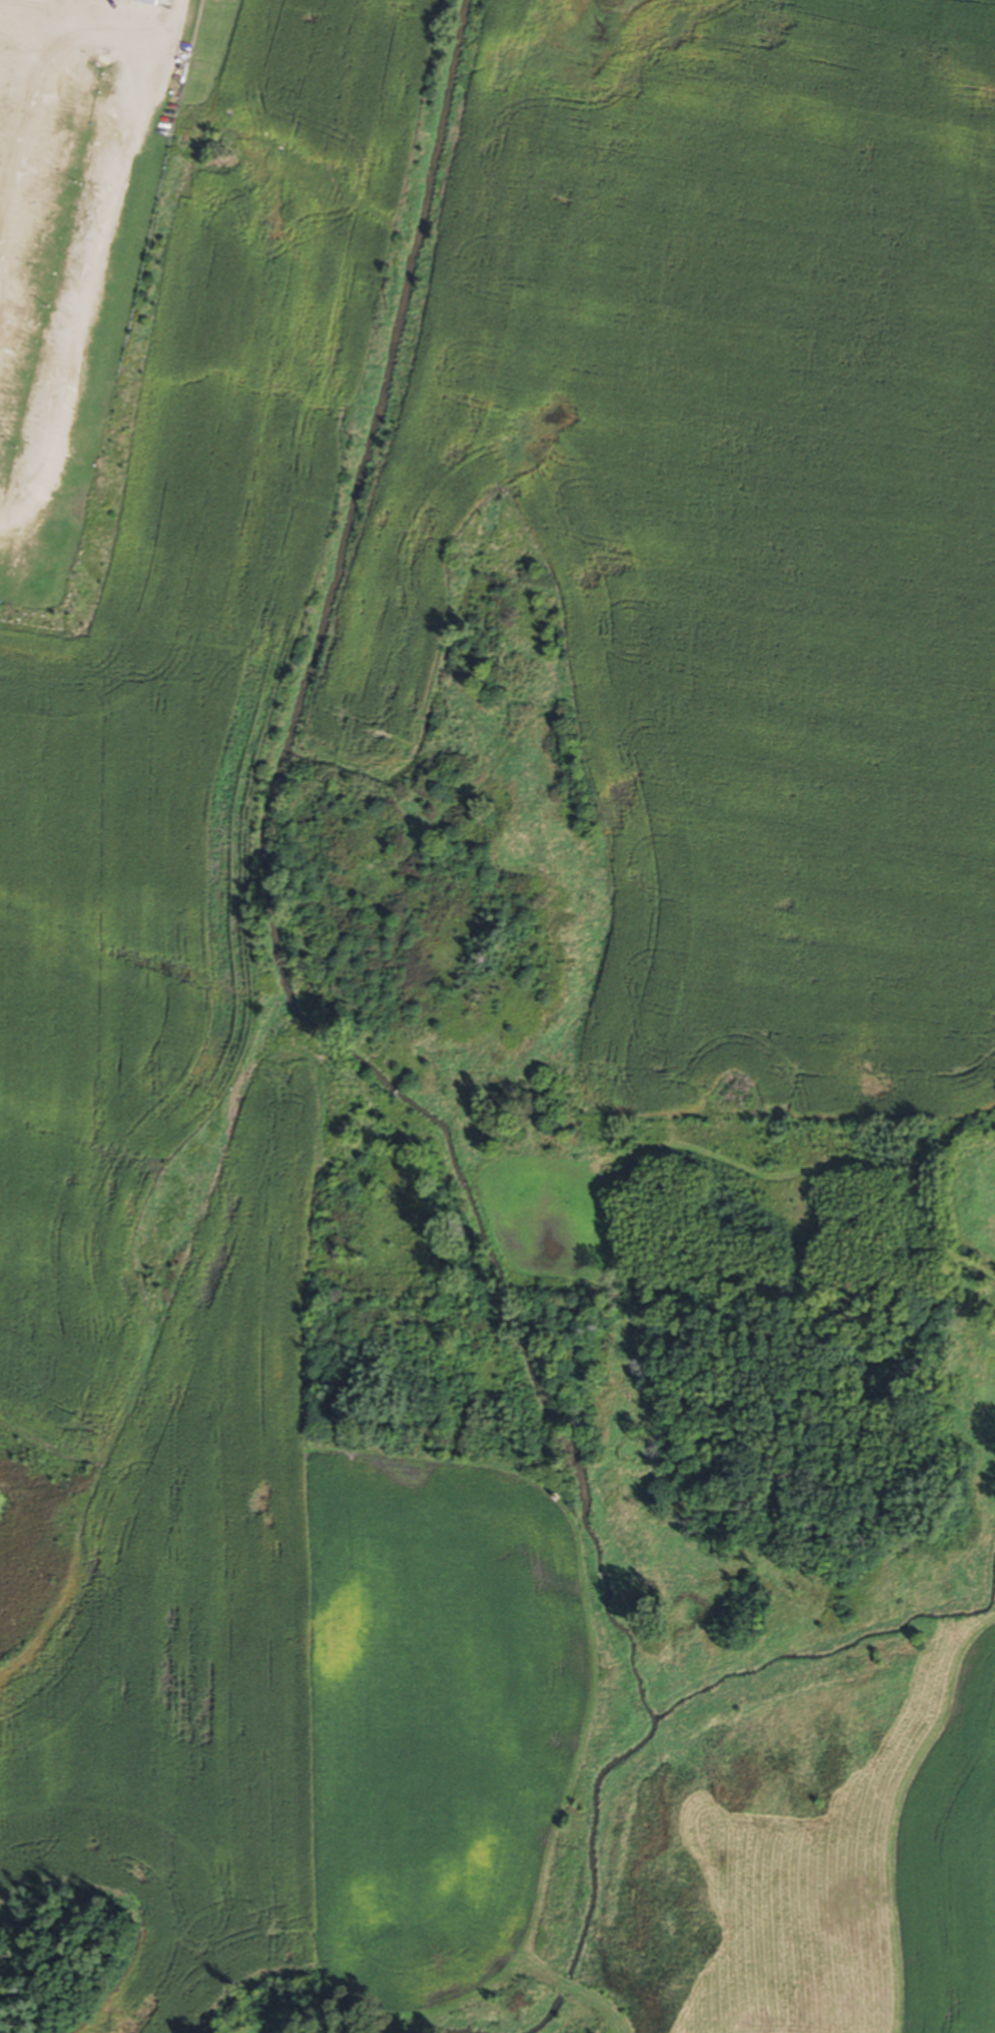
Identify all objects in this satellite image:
building: (149, 2)
road: (22, 17)
road: (38, 59)

